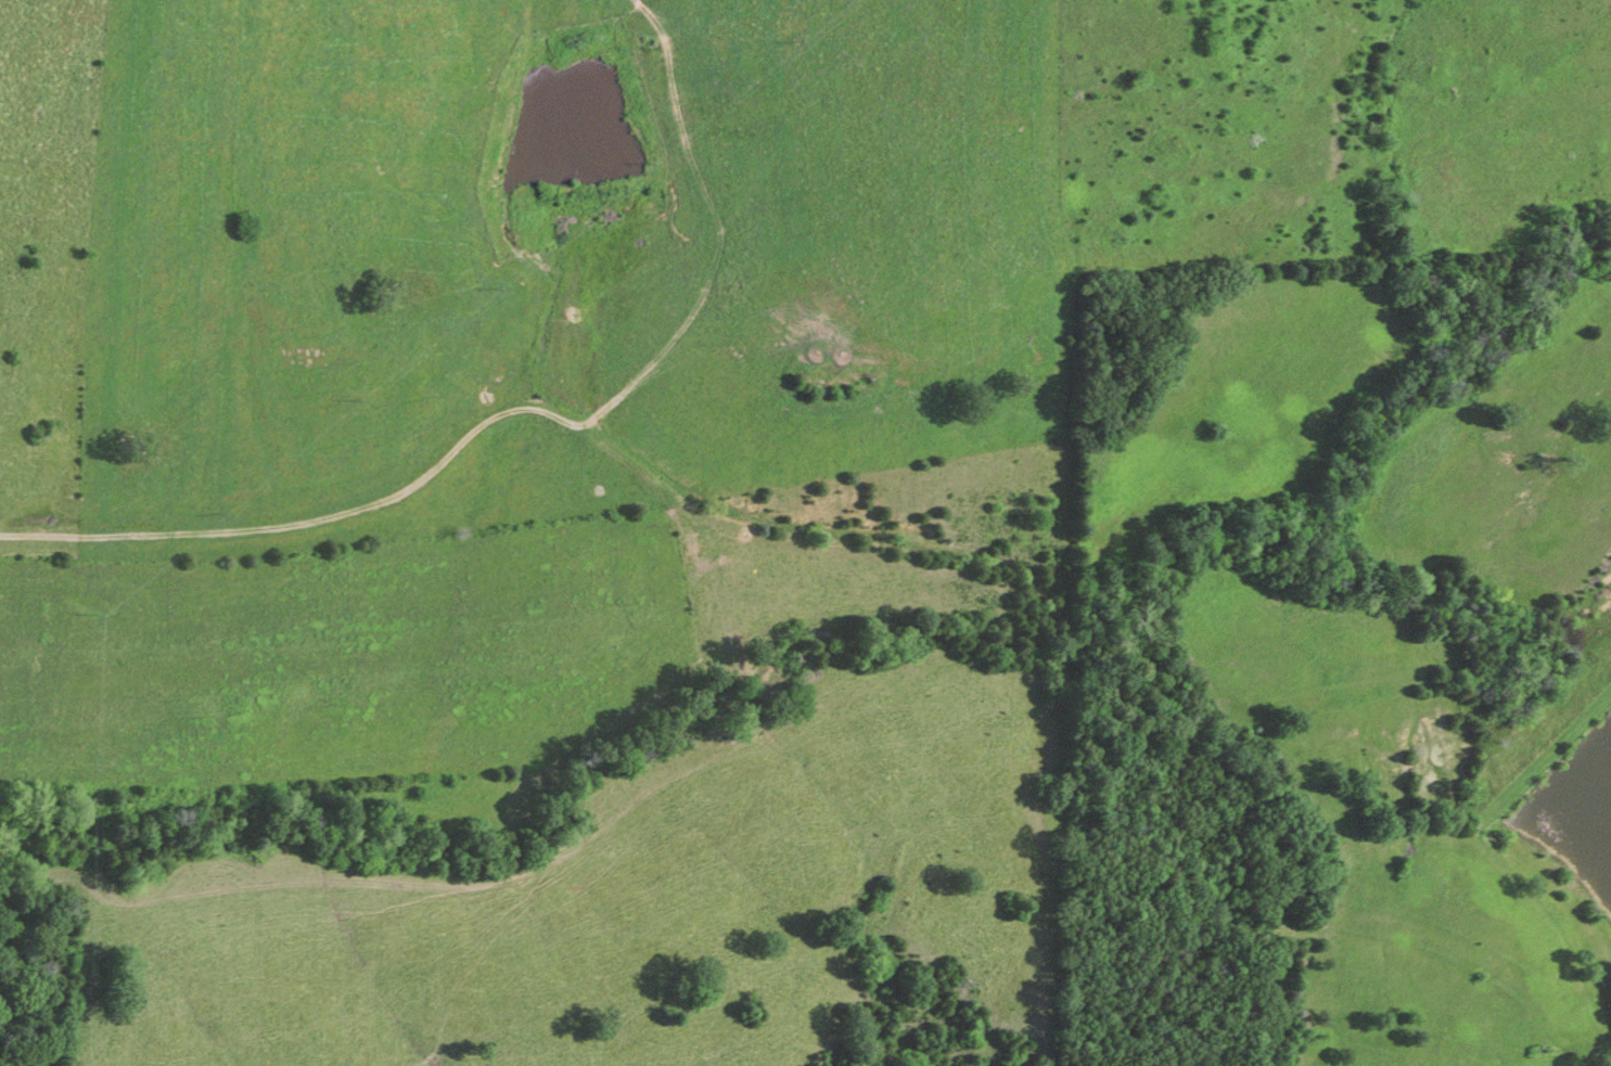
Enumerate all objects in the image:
dam: (1552, 756)

